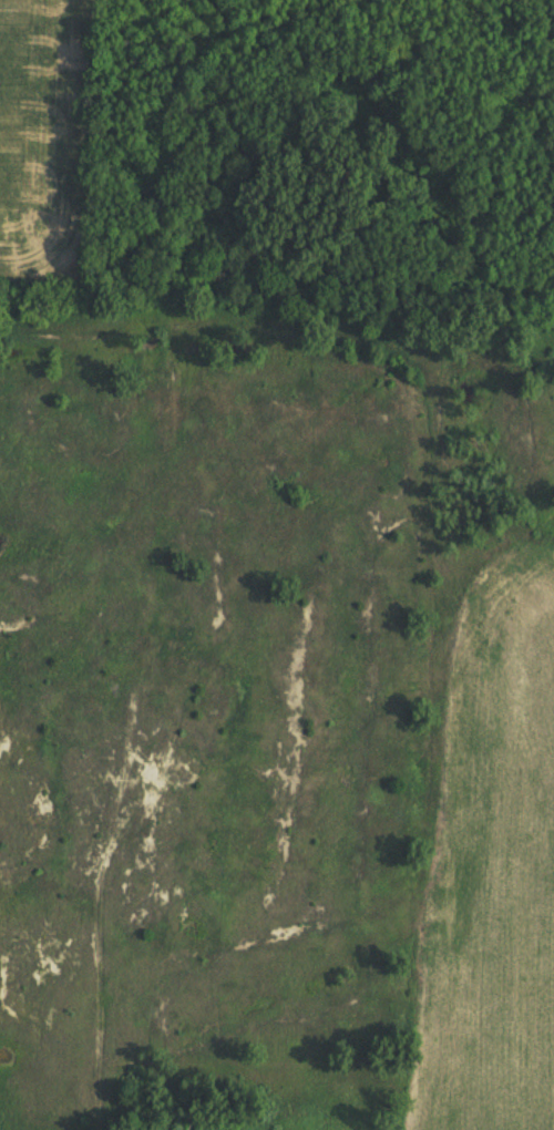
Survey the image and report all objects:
road: (109, 1061)

